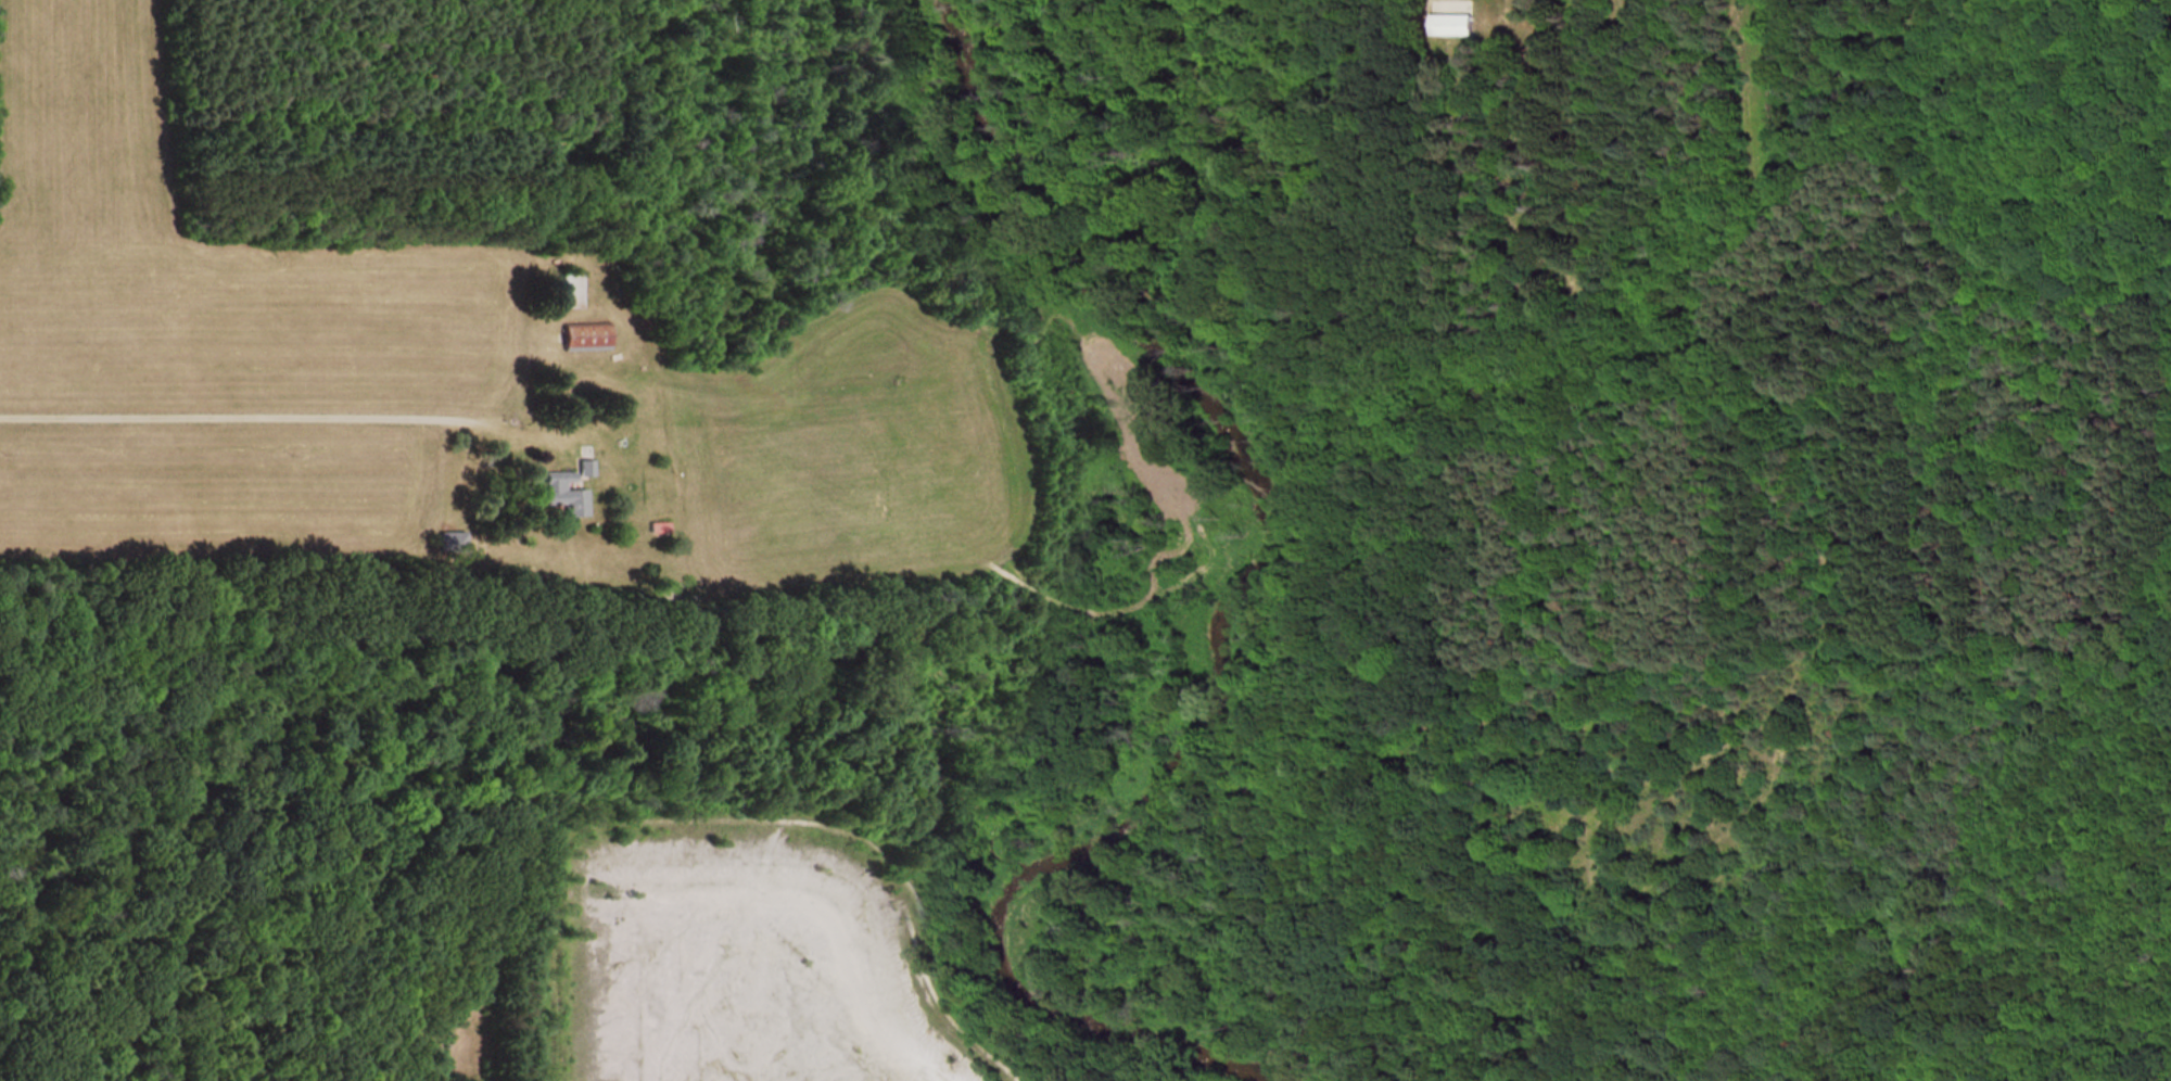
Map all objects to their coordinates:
building: (1449, 24)
building: (558, 289)
building: (575, 335)
road: (98, 421)
road: (379, 427)
building: (577, 470)
building: (557, 494)
building: (655, 529)

